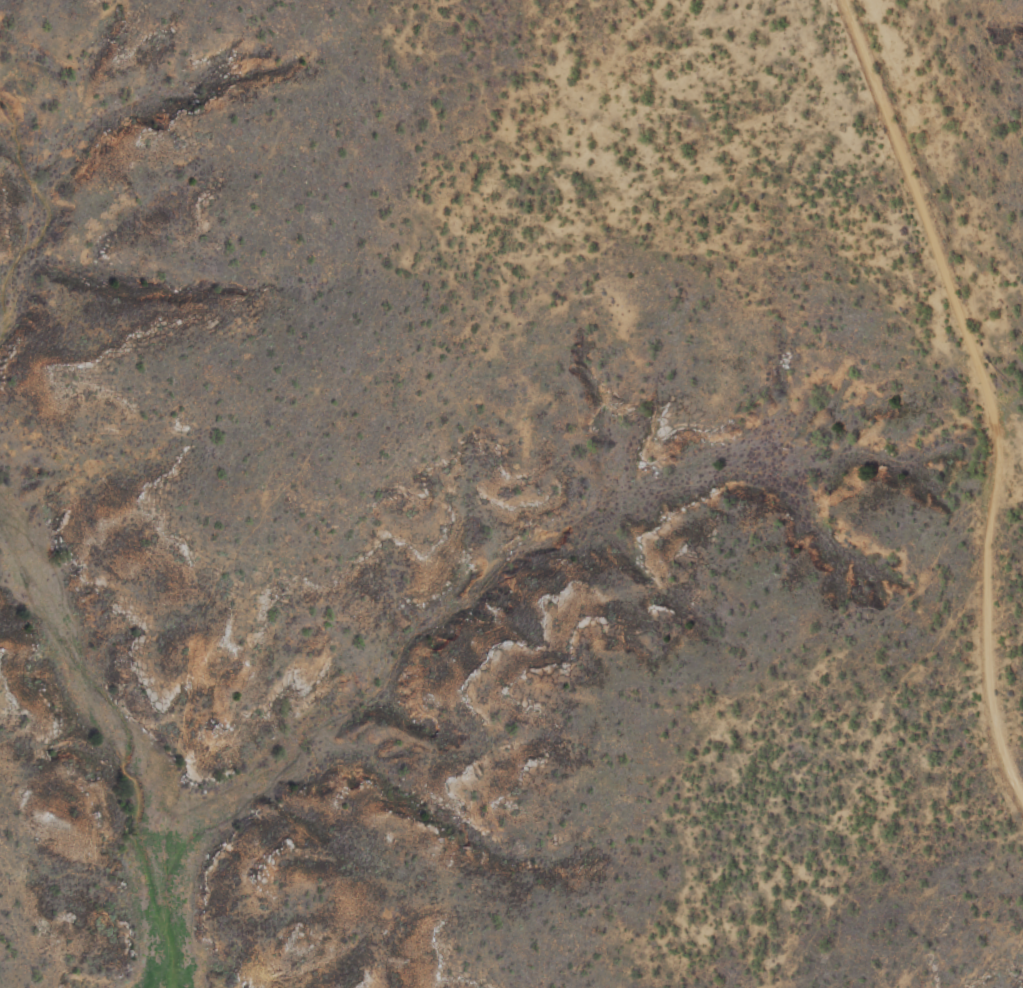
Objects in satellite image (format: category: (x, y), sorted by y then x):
road: (985, 394)

